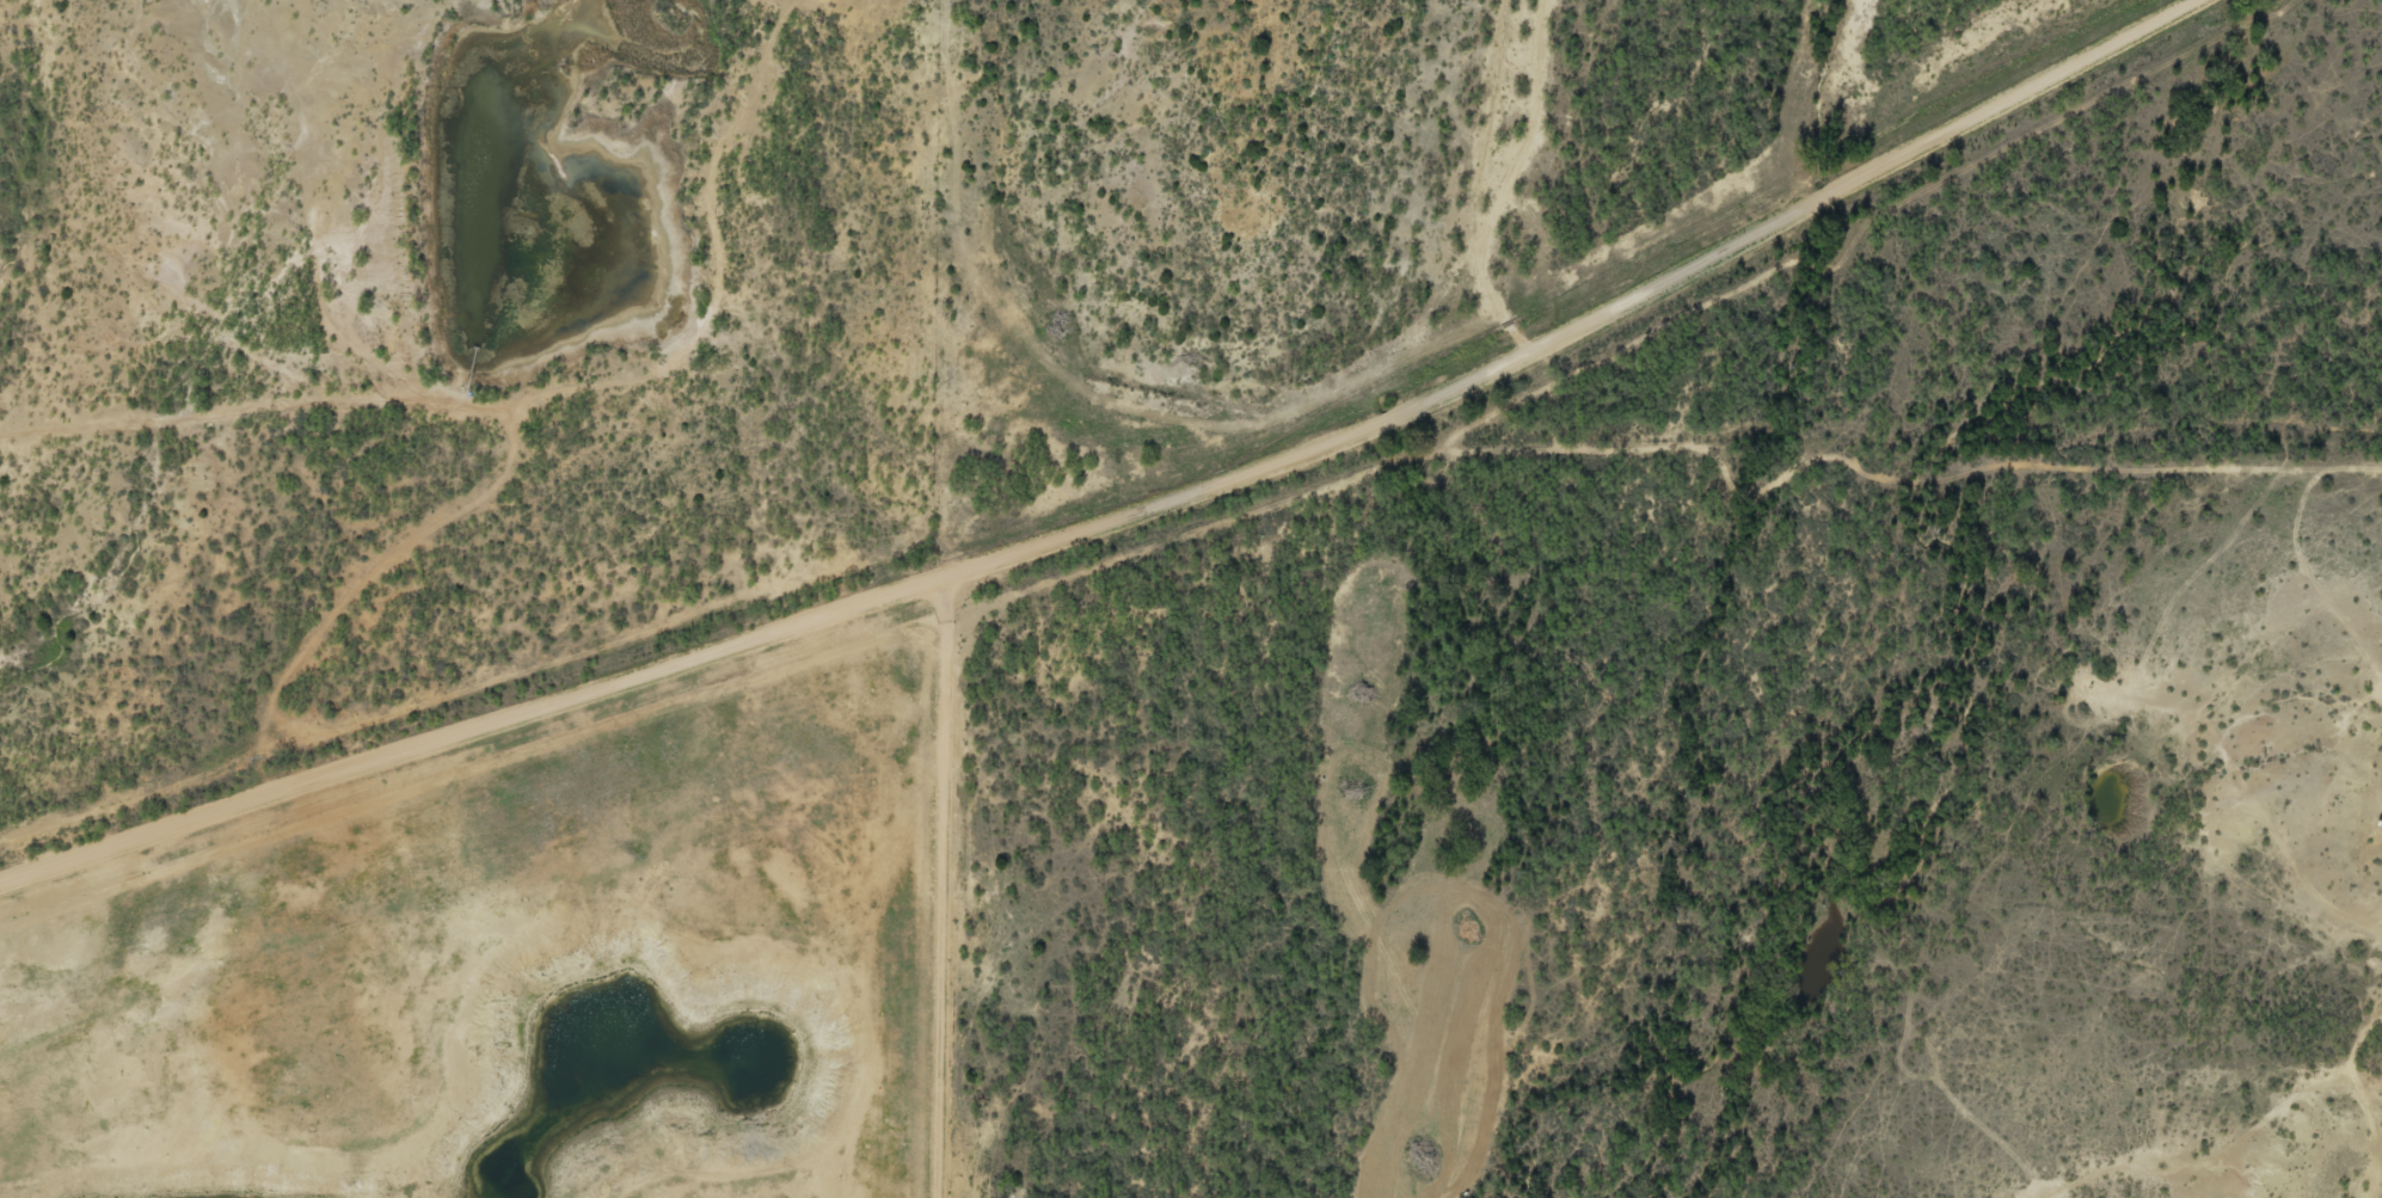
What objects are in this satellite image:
road: (1121, 500)
road: (951, 886)

